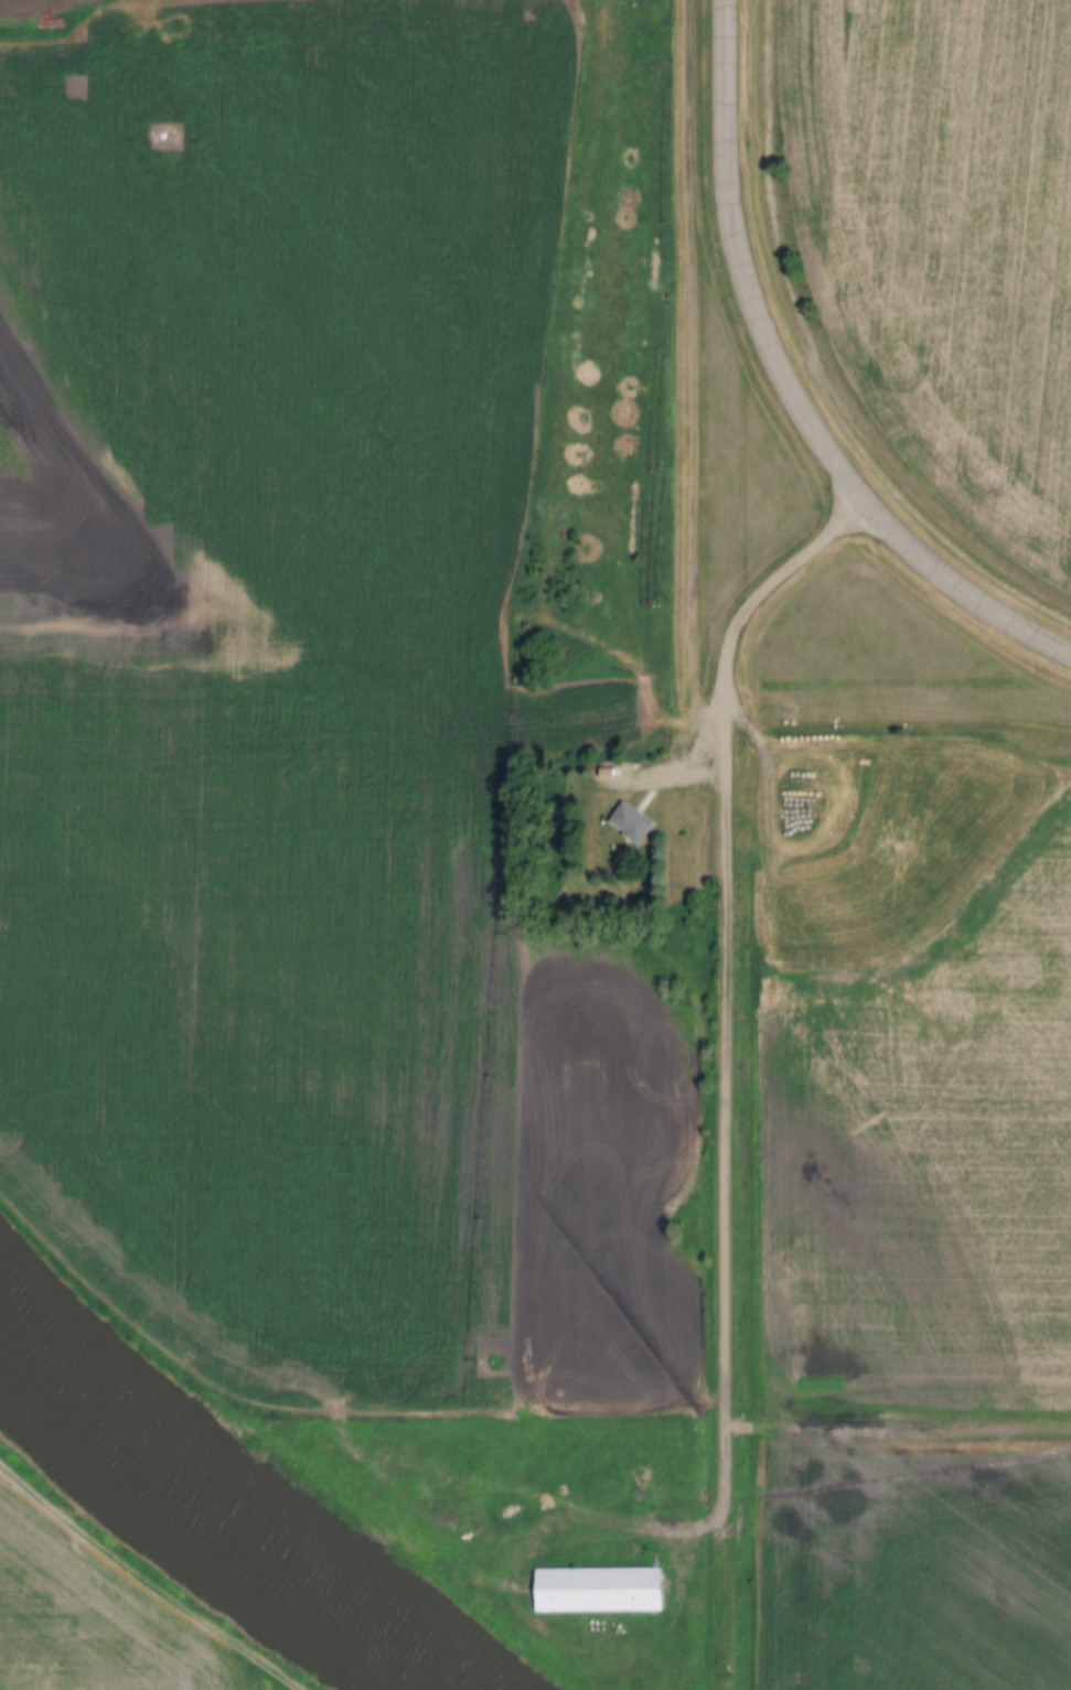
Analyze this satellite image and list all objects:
road: (793, 384)
road: (733, 652)
building: (612, 769)
building: (633, 819)
road: (634, 908)
road: (727, 1177)
river: (223, 1504)
road: (150, 1582)
building: (597, 1586)

